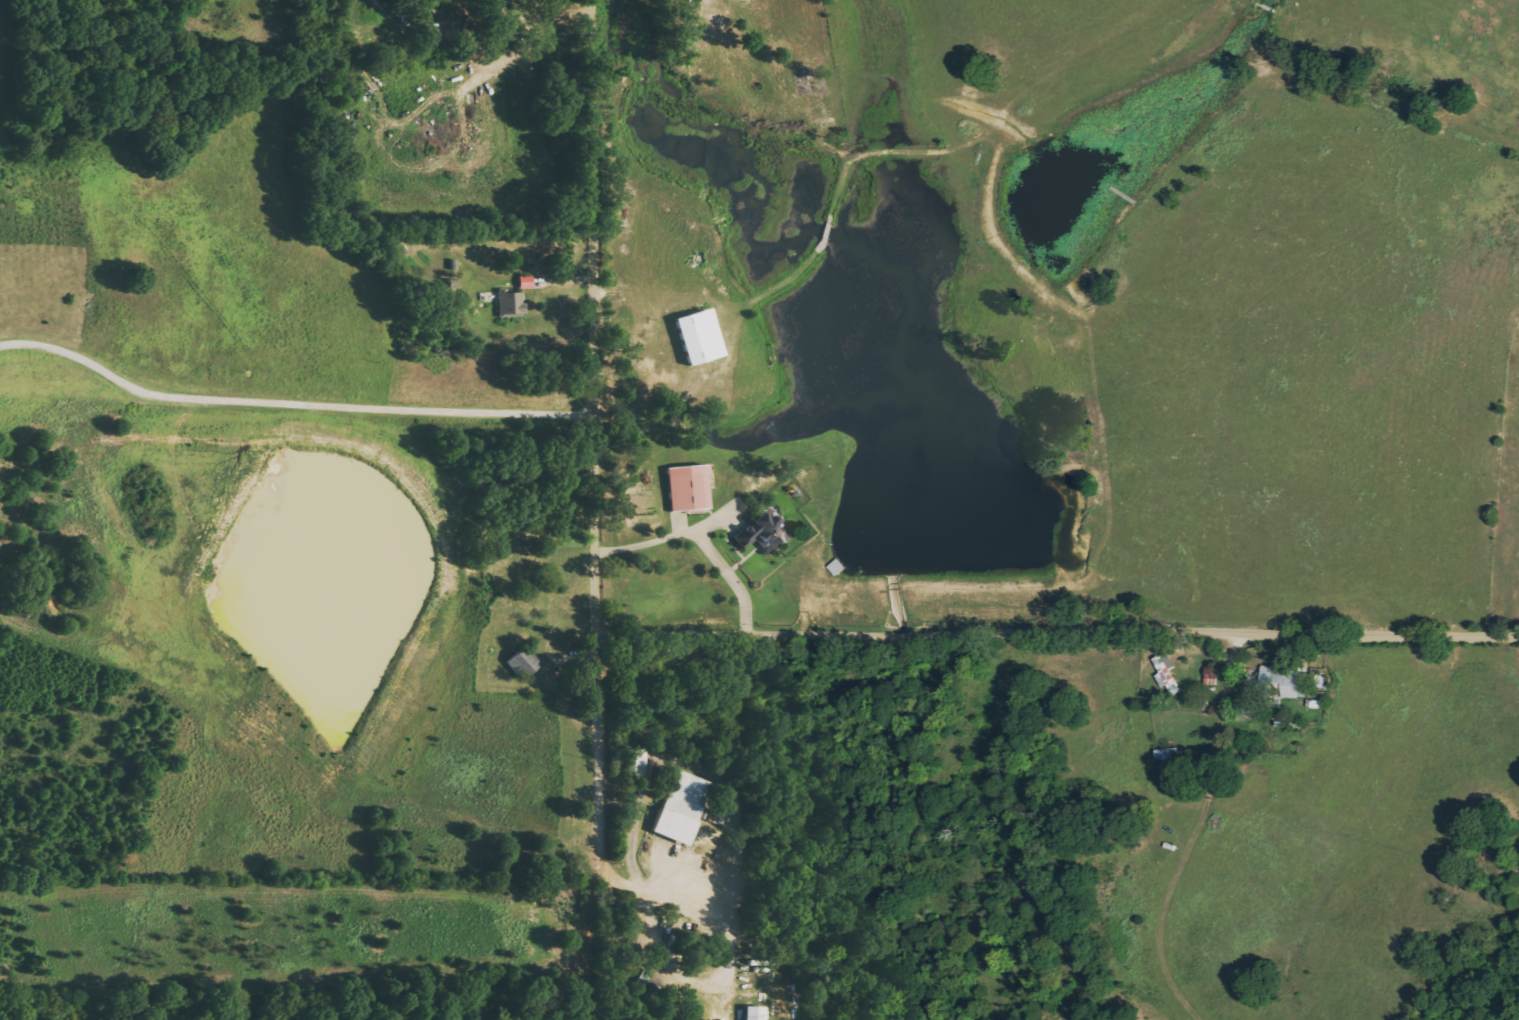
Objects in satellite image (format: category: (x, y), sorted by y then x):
building: (524, 282)
building: (510, 303)
road: (600, 320)
building: (697, 337)
road: (299, 405)
building: (687, 488)
building: (761, 535)
road: (1057, 635)
building: (521, 662)
building: (1165, 673)
building: (1287, 679)
building: (1167, 753)
building: (636, 763)
building: (681, 807)
building: (752, 1013)

